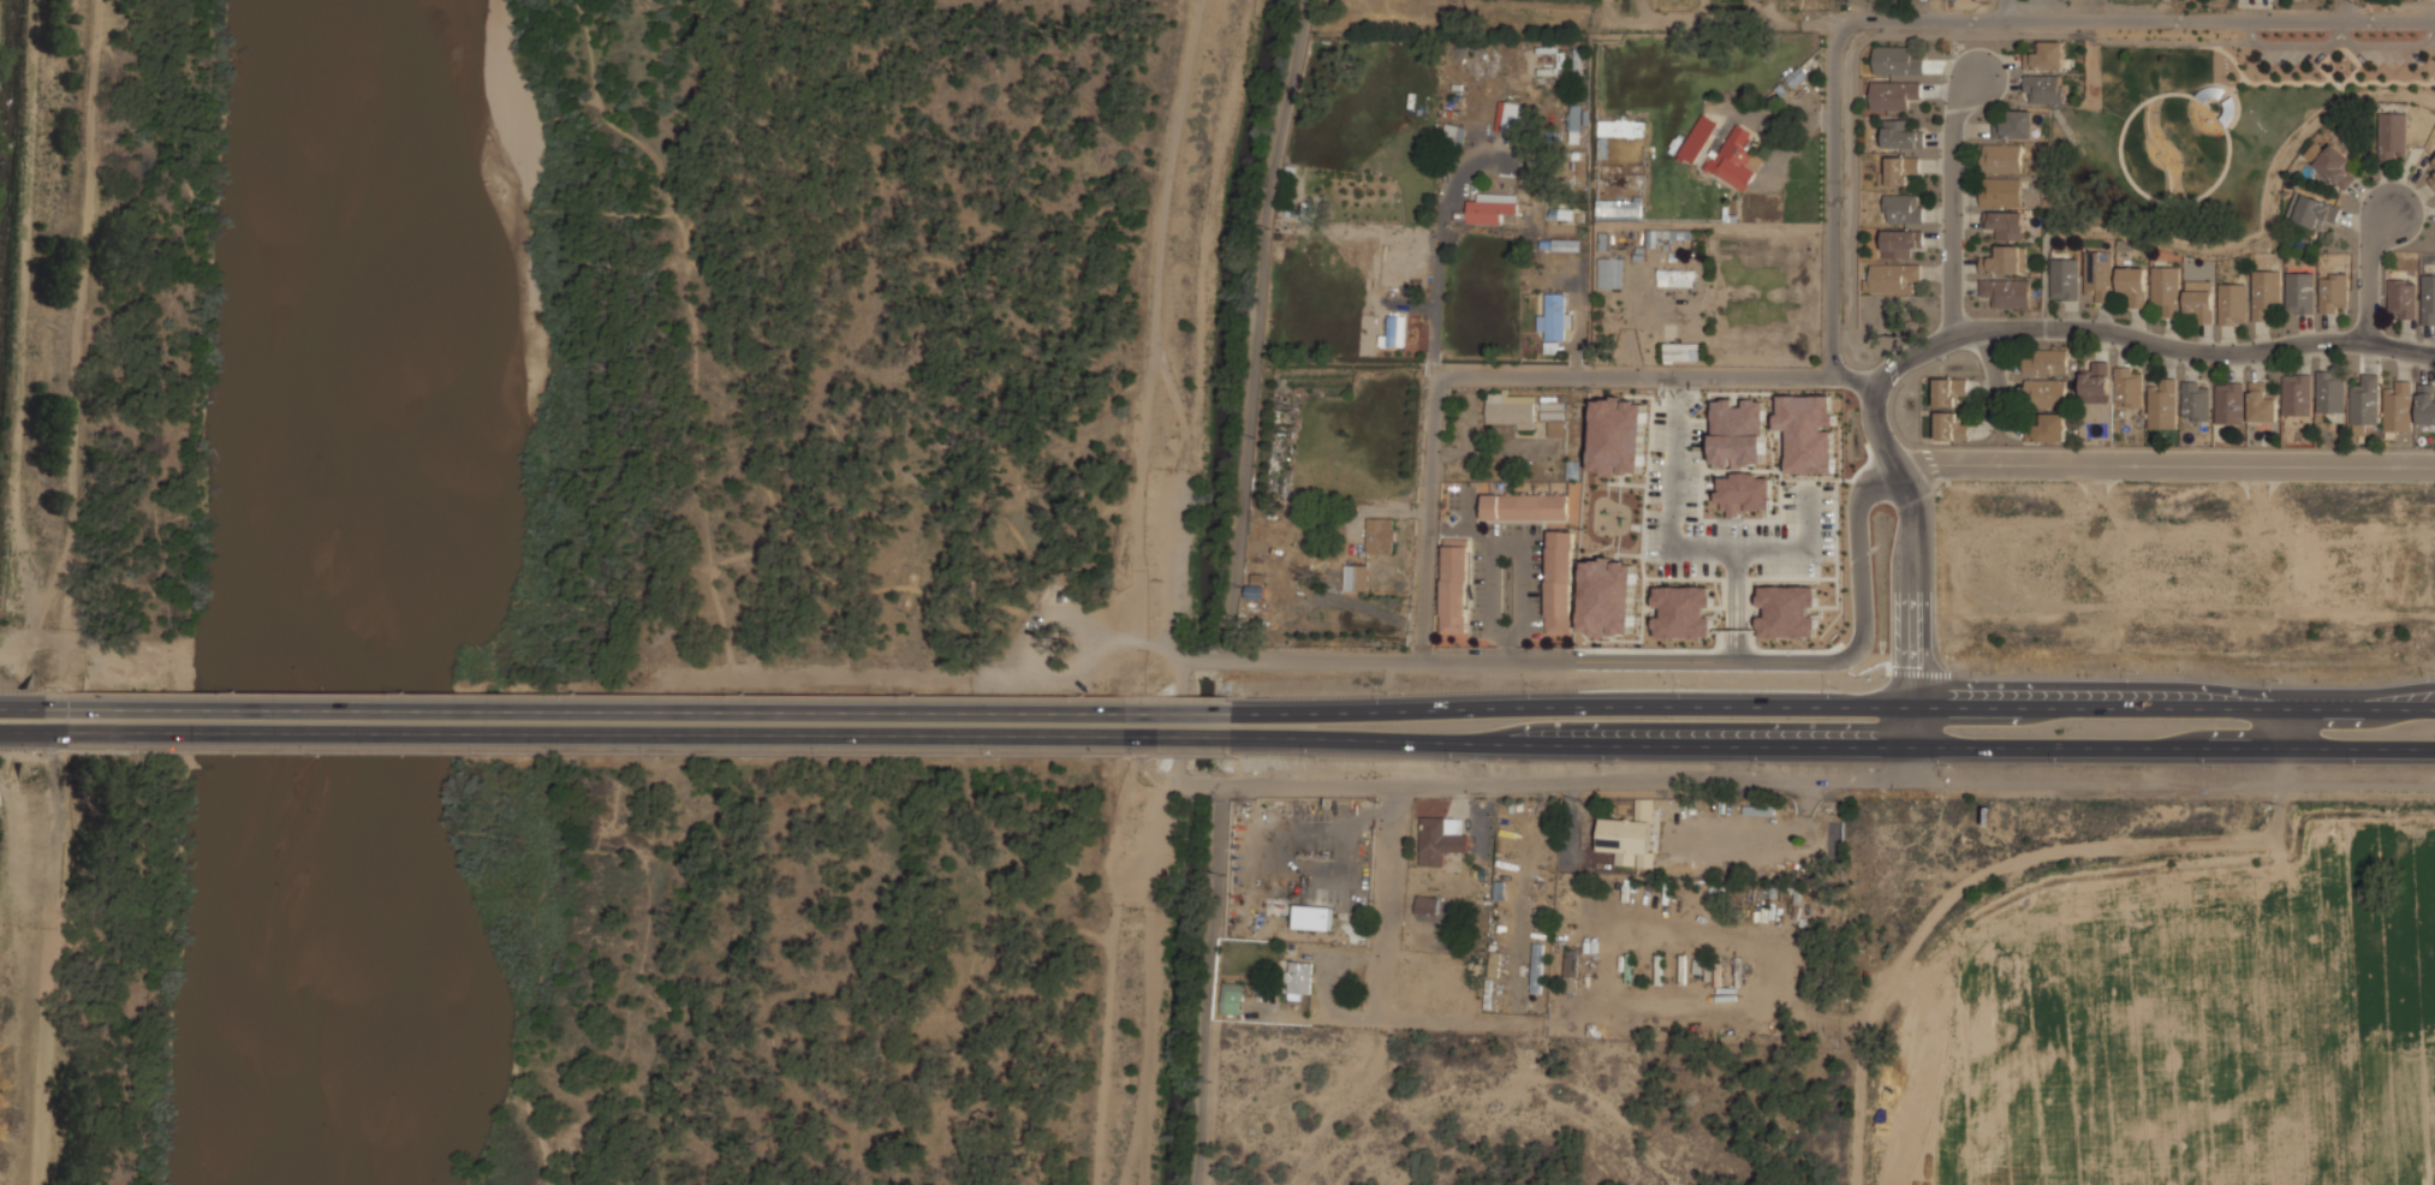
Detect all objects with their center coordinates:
road: (2001, 8)
road: (2341, 10)
road: (2137, 18)
road: (1726, 22)
road: (2296, 44)
road: (2394, 46)
building: (2047, 55)
building: (1897, 60)
building: (2044, 88)
building: (1893, 95)
building: (1510, 114)
building: (1576, 121)
building: (2014, 125)
building: (1621, 127)
park: (2209, 129)
building: (1901, 132)
building: (1455, 133)
building: (2393, 136)
building: (1698, 138)
road: (1017, 141)
building: (2001, 159)
building: (1736, 160)
building: (2434, 160)
building: (1904, 169)
building: (2431, 178)
building: (2001, 192)
road: (1952, 202)
building: (1492, 207)
building: (1619, 207)
building: (1903, 208)
road: (764, 209)
building: (2312, 209)
building: (1561, 213)
building: (2006, 225)
building: (1669, 234)
building: (1901, 242)
building: (1566, 244)
road: (1439, 260)
building: (2006, 260)
building: (1611, 270)
road: (2369, 270)
road: (965, 272)
building: (2098, 275)
building: (1677, 276)
building: (1893, 276)
road: (2047, 279)
building: (2064, 279)
building: (2133, 286)
building: (2007, 291)
building: (2167, 291)
building: (2266, 291)
building: (2300, 292)
building: (2334, 292)
building: (2429, 298)
building: (2403, 300)
building: (2233, 303)
building: (2201, 305)
building: (1555, 315)
road: (1157, 326)
road: (1578, 327)
road: (2101, 329)
building: (1394, 332)
building: (1683, 350)
building: (2046, 363)
road: (1996, 365)
road: (1671, 380)
road: (1853, 381)
road: (748, 383)
building: (2095, 383)
building: (2129, 387)
building: (1949, 392)
building: (2330, 392)
building: (2046, 394)
building: (2297, 395)
road: (167, 399)
building: (2196, 401)
building: (2365, 401)
building: (2229, 403)
building: (2261, 404)
building: (2427, 404)
building: (2163, 405)
building: (2398, 407)
building: (1512, 409)
building: (1554, 412)
building: (1751, 422)
building: (1951, 425)
building: (2048, 428)
building: (1803, 429)
road: (1250, 430)
building: (1627, 443)
road: (2165, 463)
building: (1744, 493)
building: (1526, 505)
building: (1382, 536)
road: (1685, 547)
road: (749, 555)
building: (1353, 576)
building: (1560, 580)
building: (1455, 584)
building: (1255, 591)
river: (352, 592)
building: (1608, 597)
road: (1728, 603)
road: (1740, 603)
road: (1917, 606)
building: (1684, 608)
building: (1787, 611)
building: (1719, 620)
road: (1093, 630)
road: (728, 649)
road: (1166, 650)
road: (1643, 661)
road: (1836, 703)
road: (24, 705)
road: (644, 707)
road: (2282, 726)
road: (24, 733)
road: (643, 734)
road: (1835, 743)
road: (1915, 762)
road: (1567, 781)
road: (2174, 782)
building: (1630, 834)
building: (1442, 836)
road: (1389, 900)
building: (1427, 903)
building: (1312, 916)
road: (986, 918)
building: (1494, 964)
building: (1571, 969)
building: (1542, 971)
road: (1119, 976)
building: (1299, 978)
road: (1205, 983)
building: (1233, 996)
crop: (2179, 1020)

